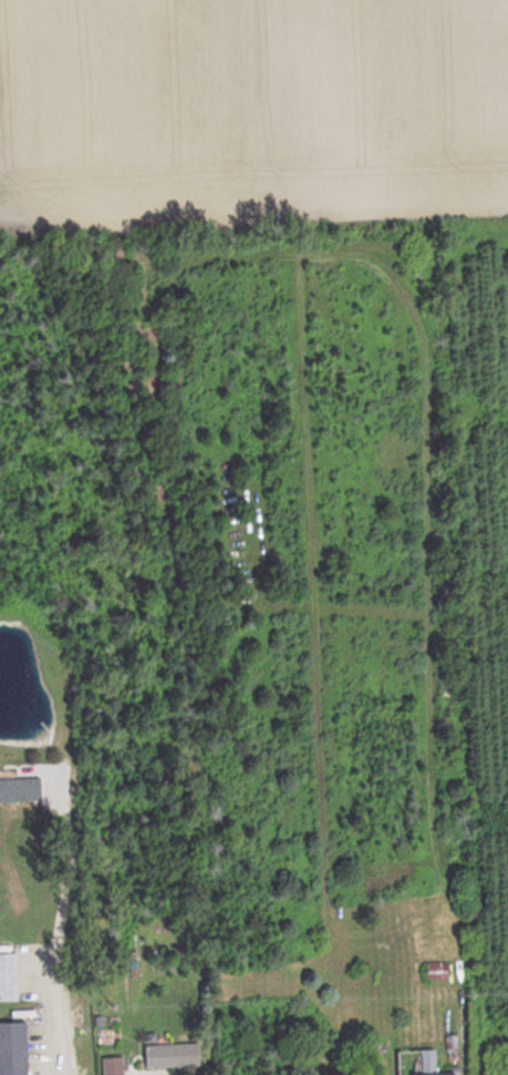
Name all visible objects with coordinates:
building: (22, 791)
building: (440, 973)
building: (10, 979)
building: (460, 979)
building: (15, 1050)
building: (176, 1056)
building: (433, 1064)
building: (116, 1066)

